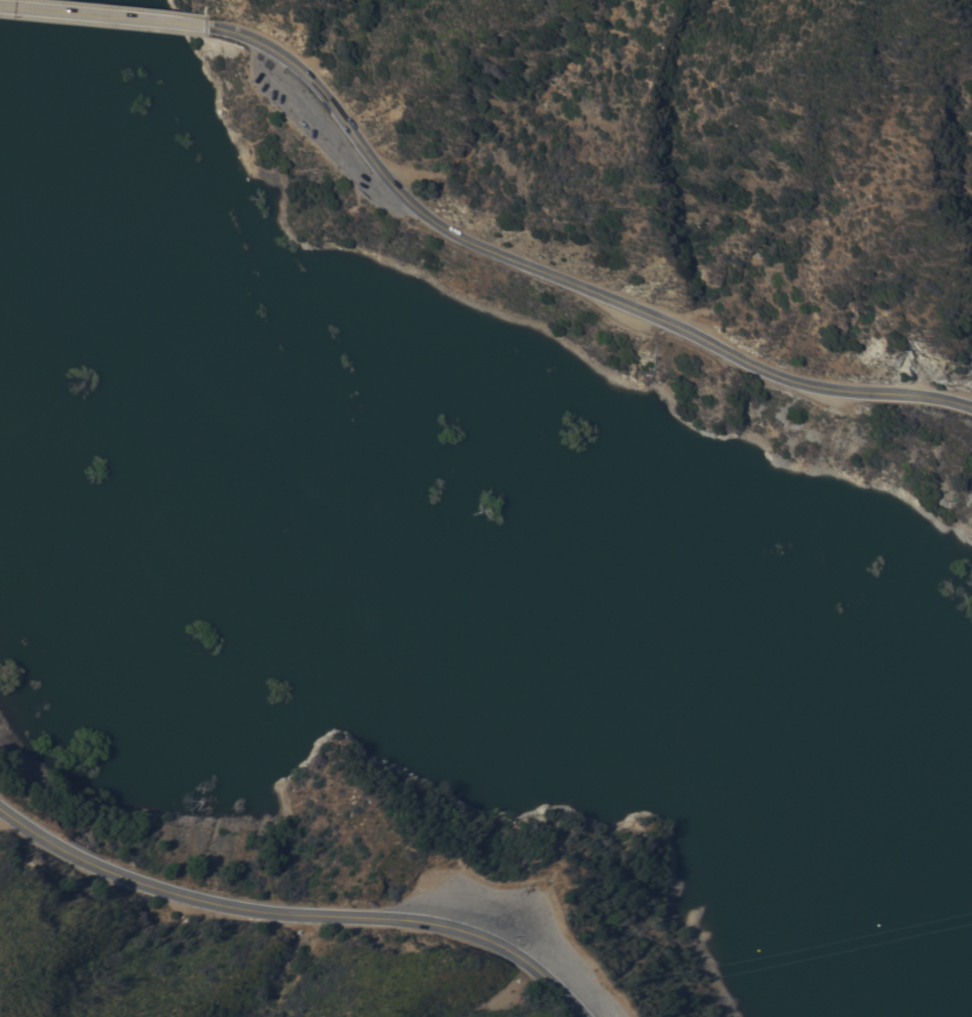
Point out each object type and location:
road: (104, 15)
road: (554, 277)
river: (434, 593)
road: (296, 914)
parking lot: (528, 927)

